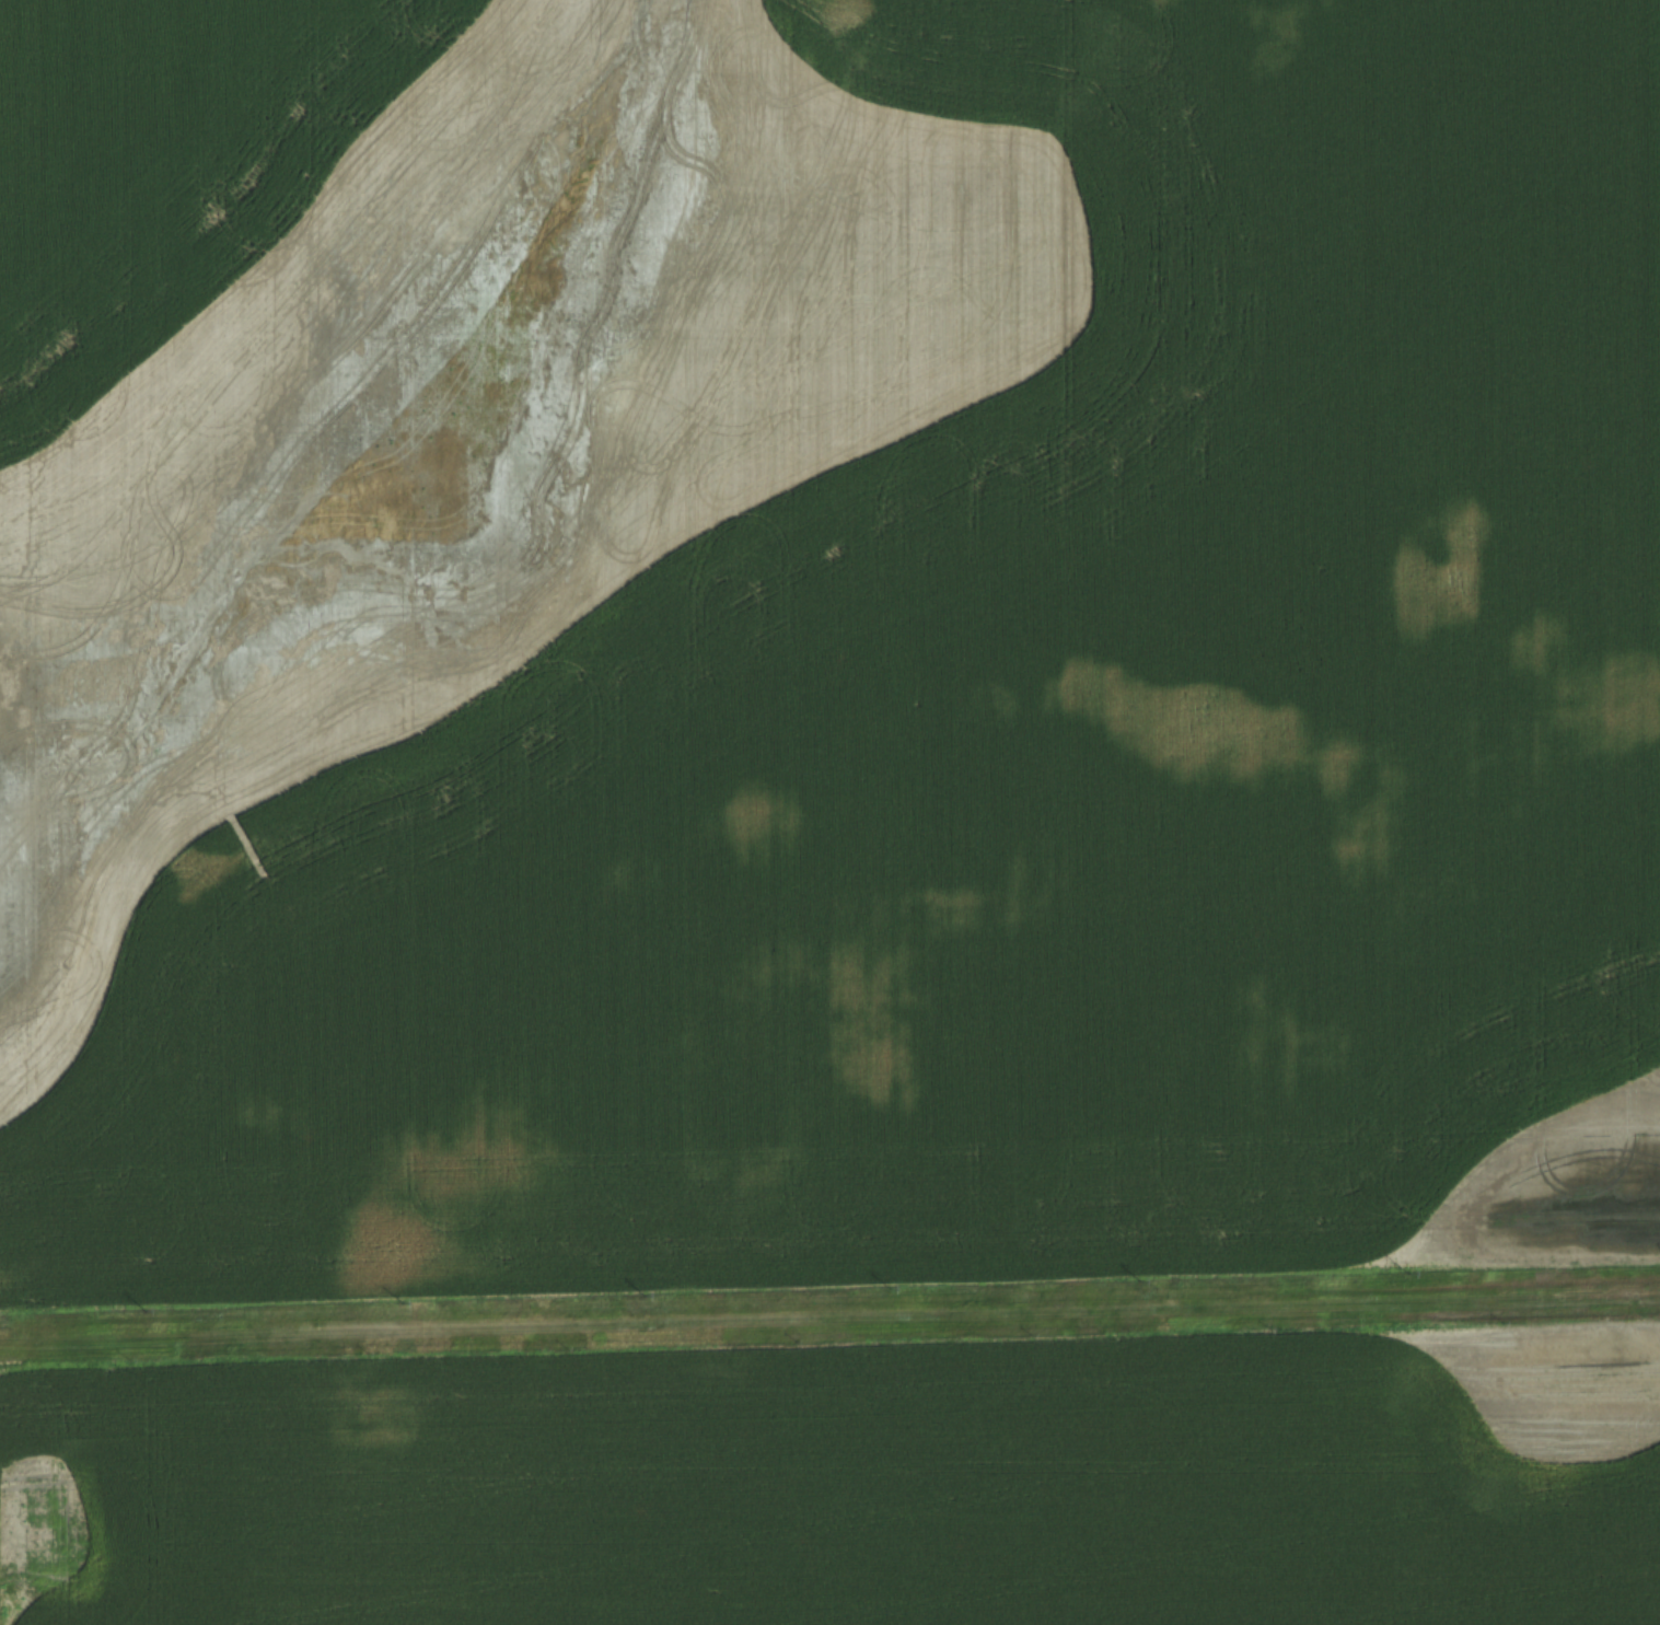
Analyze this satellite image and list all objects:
road: (829, 1328)

